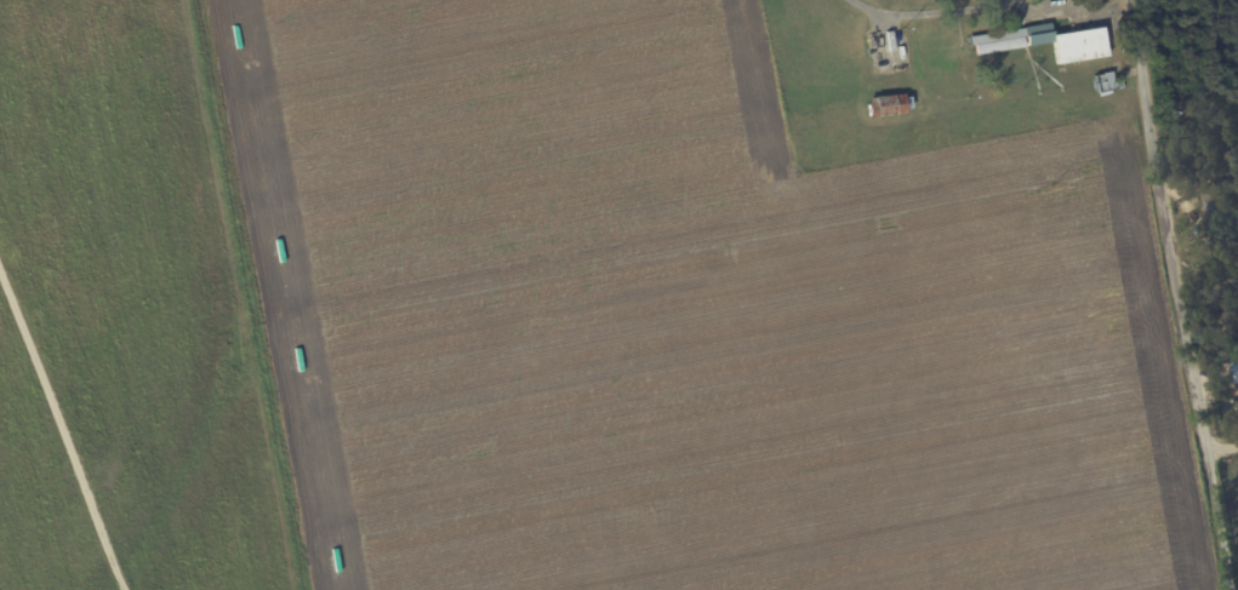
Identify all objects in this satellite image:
road: (985, 11)
building: (1040, 42)
building: (885, 105)
road: (1181, 294)
building: (1234, 372)
road: (61, 430)
road: (1223, 449)

